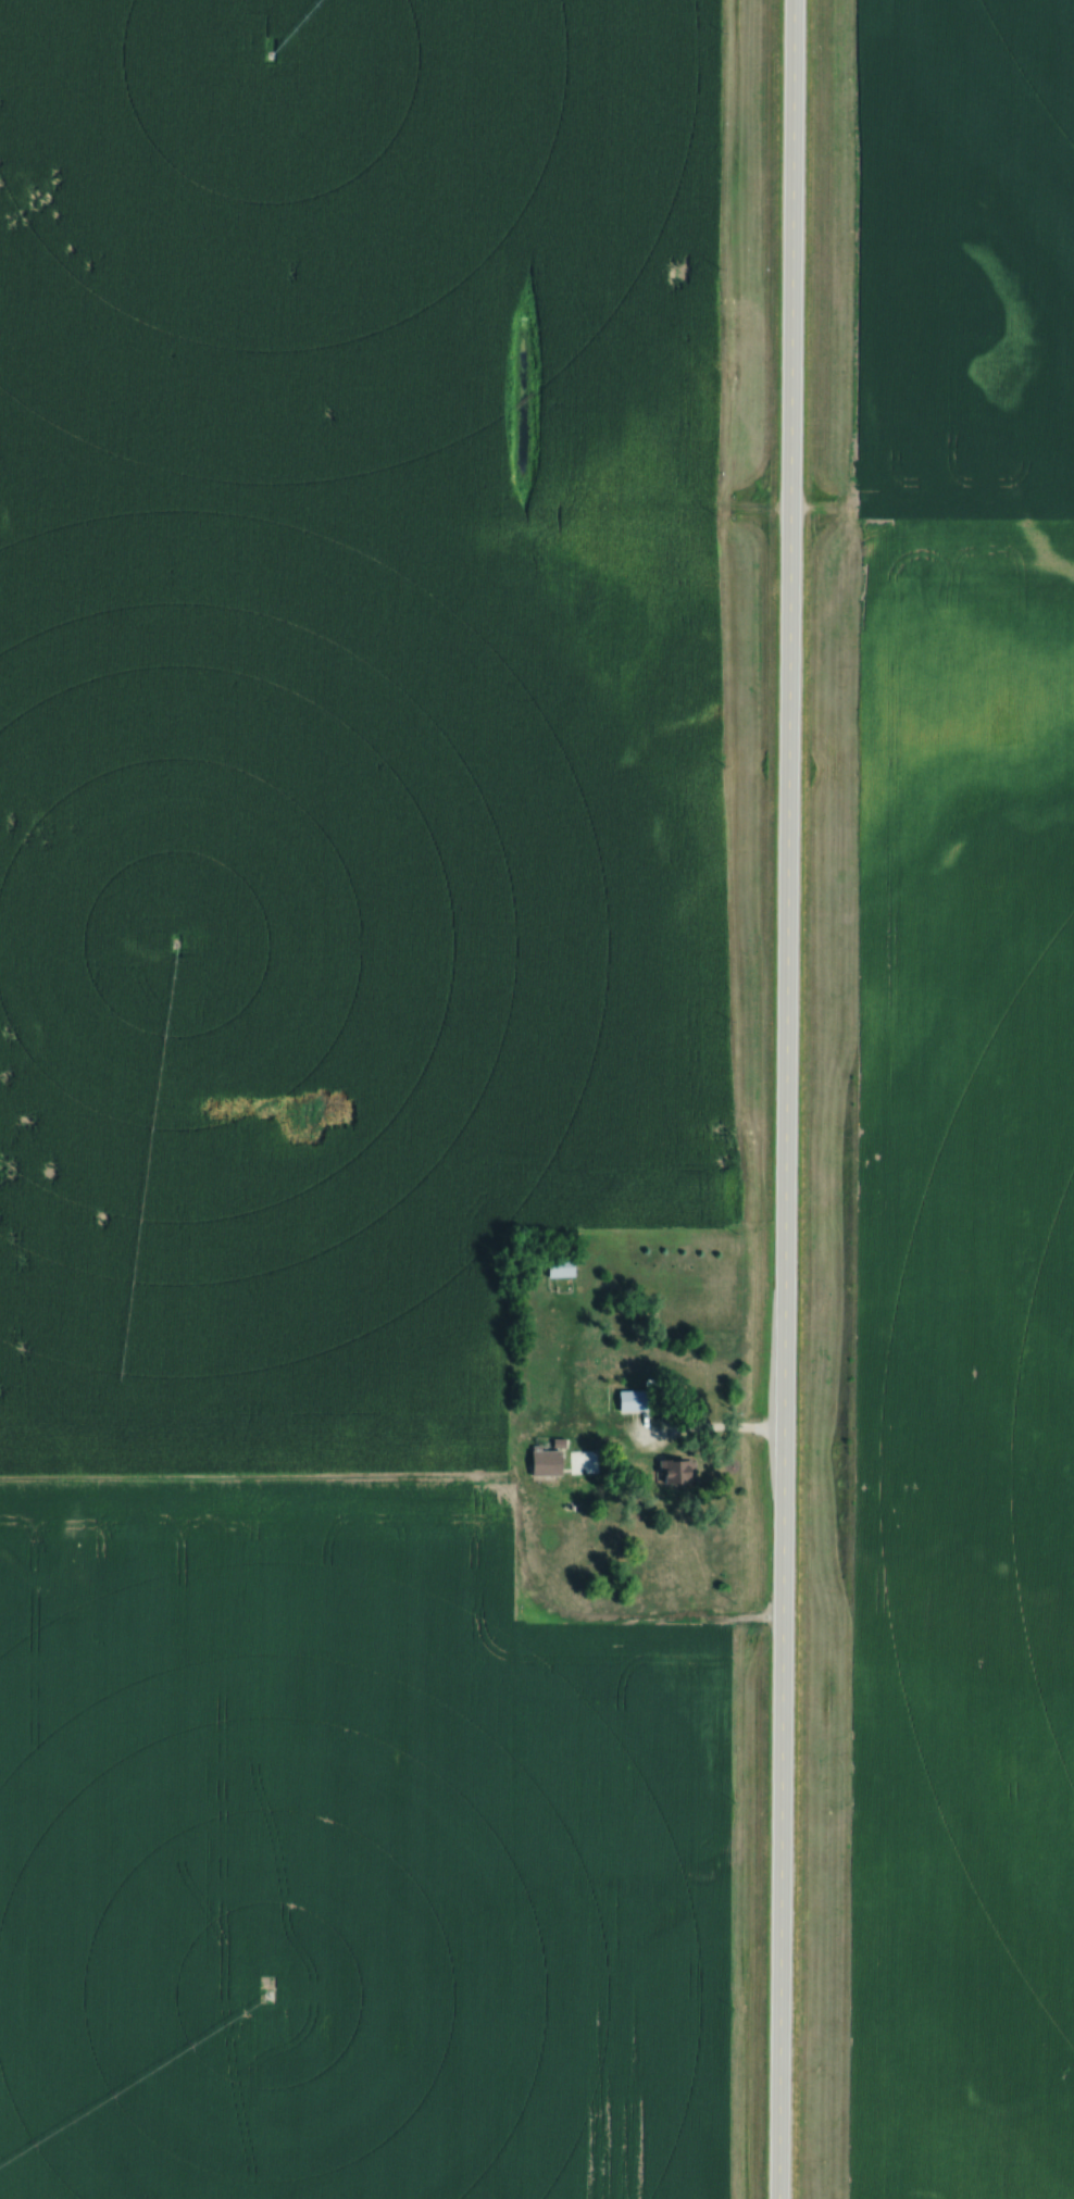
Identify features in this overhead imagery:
road: (788, 1099)
building: (565, 1267)
building: (637, 1400)
road: (715, 1437)
building: (547, 1462)
building: (678, 1472)

